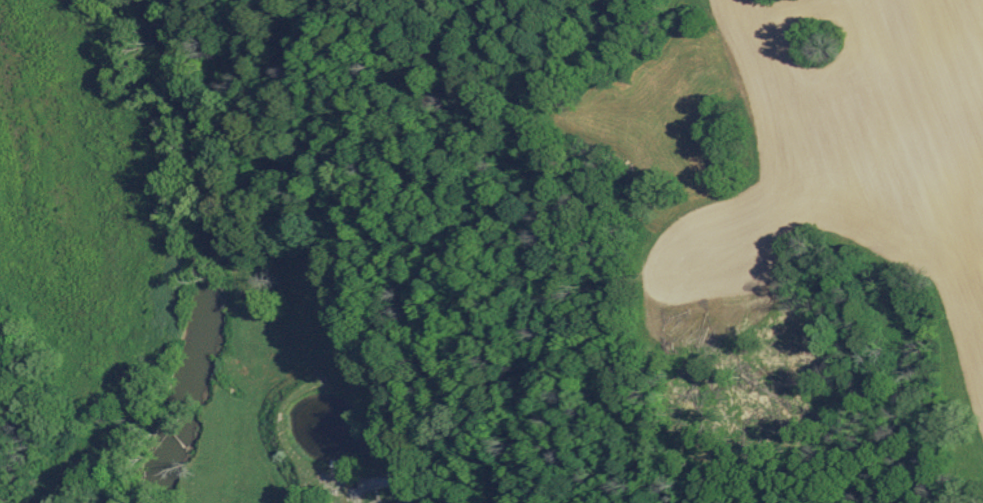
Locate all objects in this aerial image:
road: (330, 246)
river: (213, 251)
building: (401, 501)
building: (416, 502)

